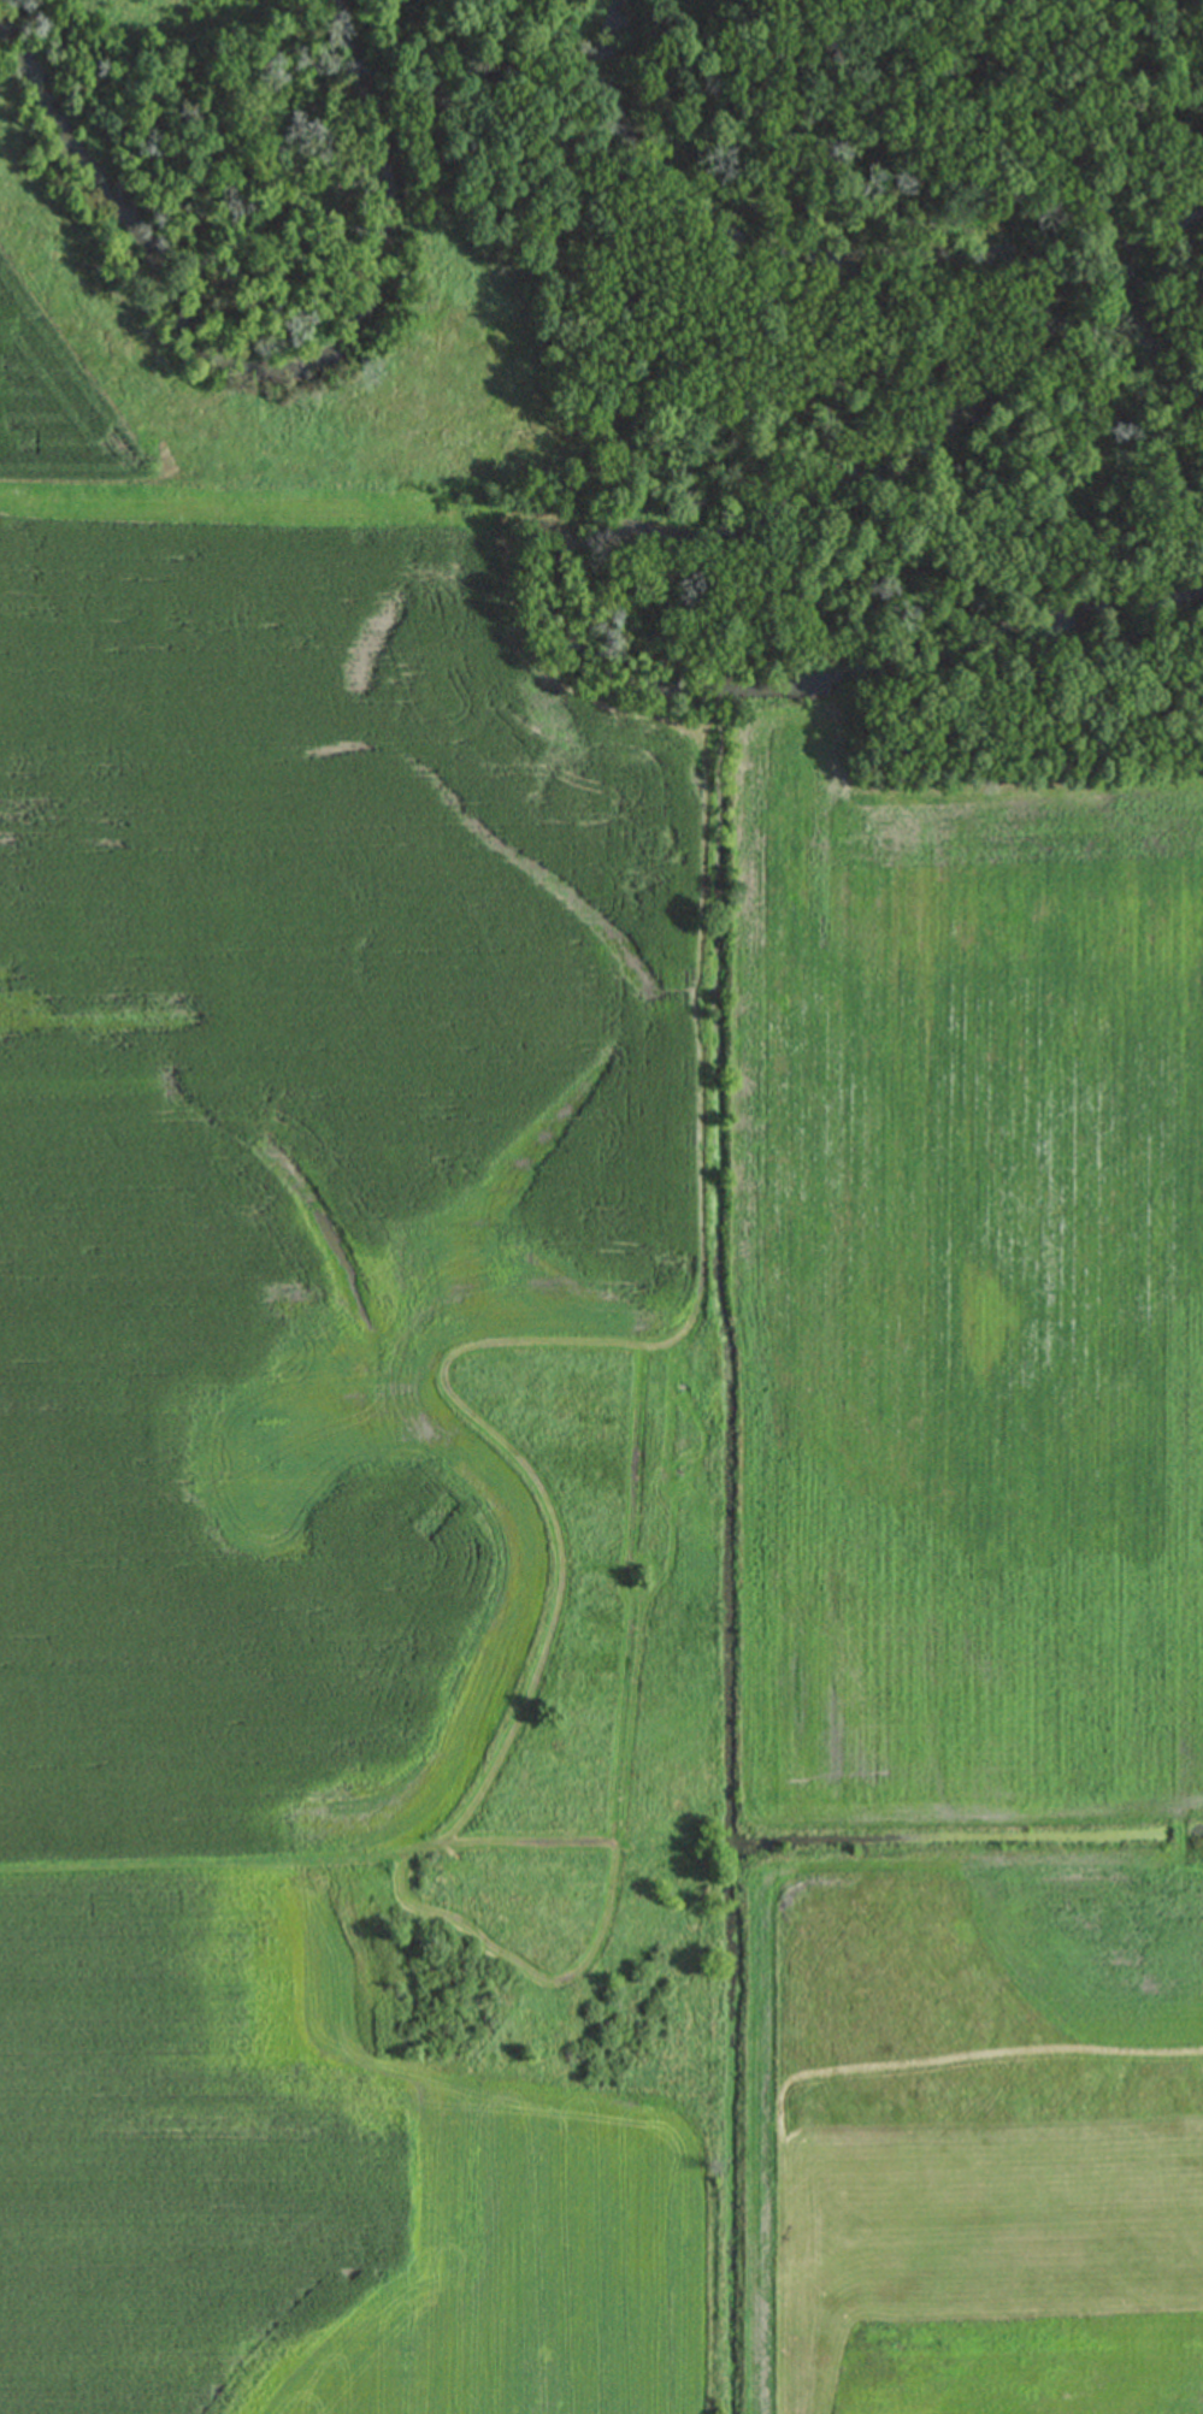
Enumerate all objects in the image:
river: (1133, 303)
river: (263, 368)
river: (757, 500)

